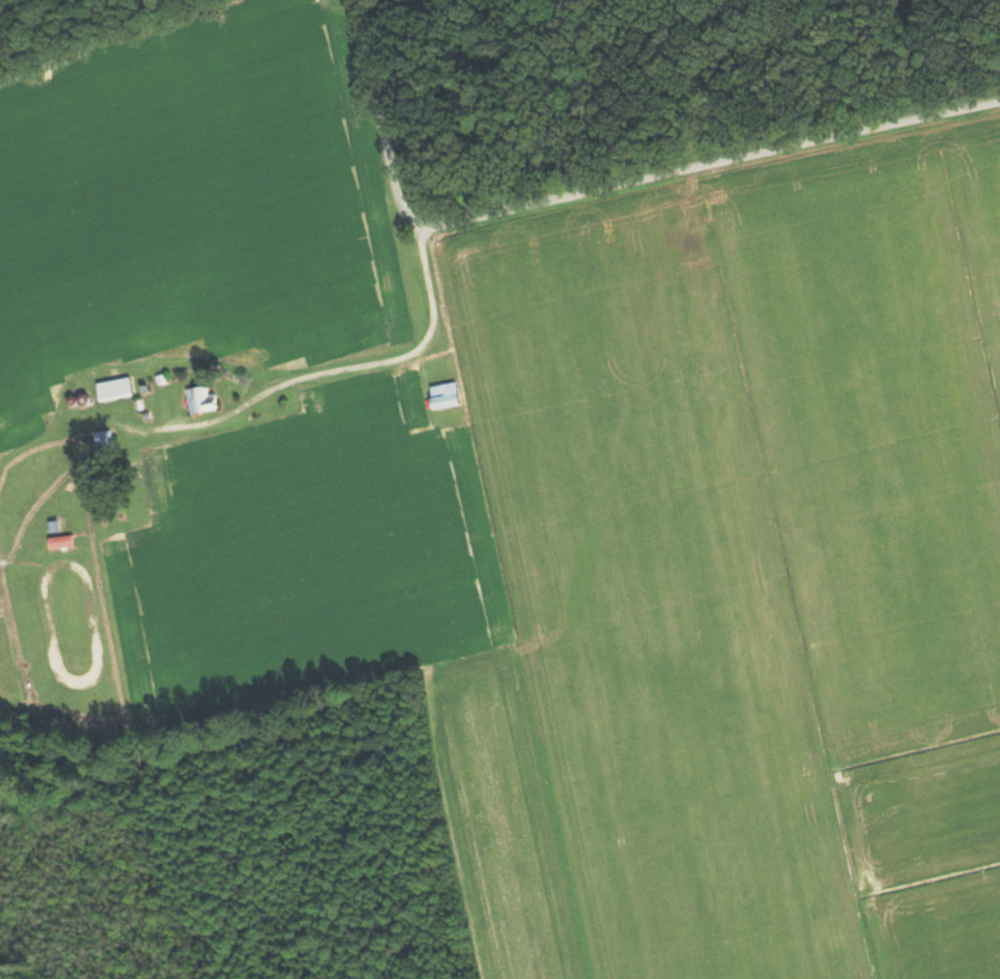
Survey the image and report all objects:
road: (374, 122)
road: (709, 167)
road: (297, 379)
building: (110, 388)
building: (204, 400)
building: (452, 401)
road: (277, 418)
building: (106, 440)
building: (64, 542)

